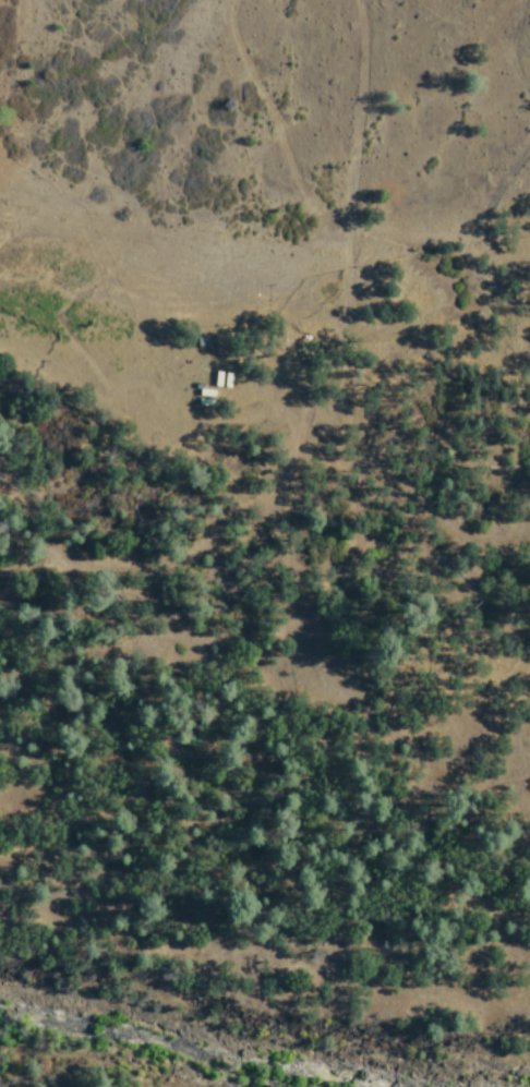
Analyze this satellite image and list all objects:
road: (356, 134)
road: (309, 392)
river: (198, 1055)

